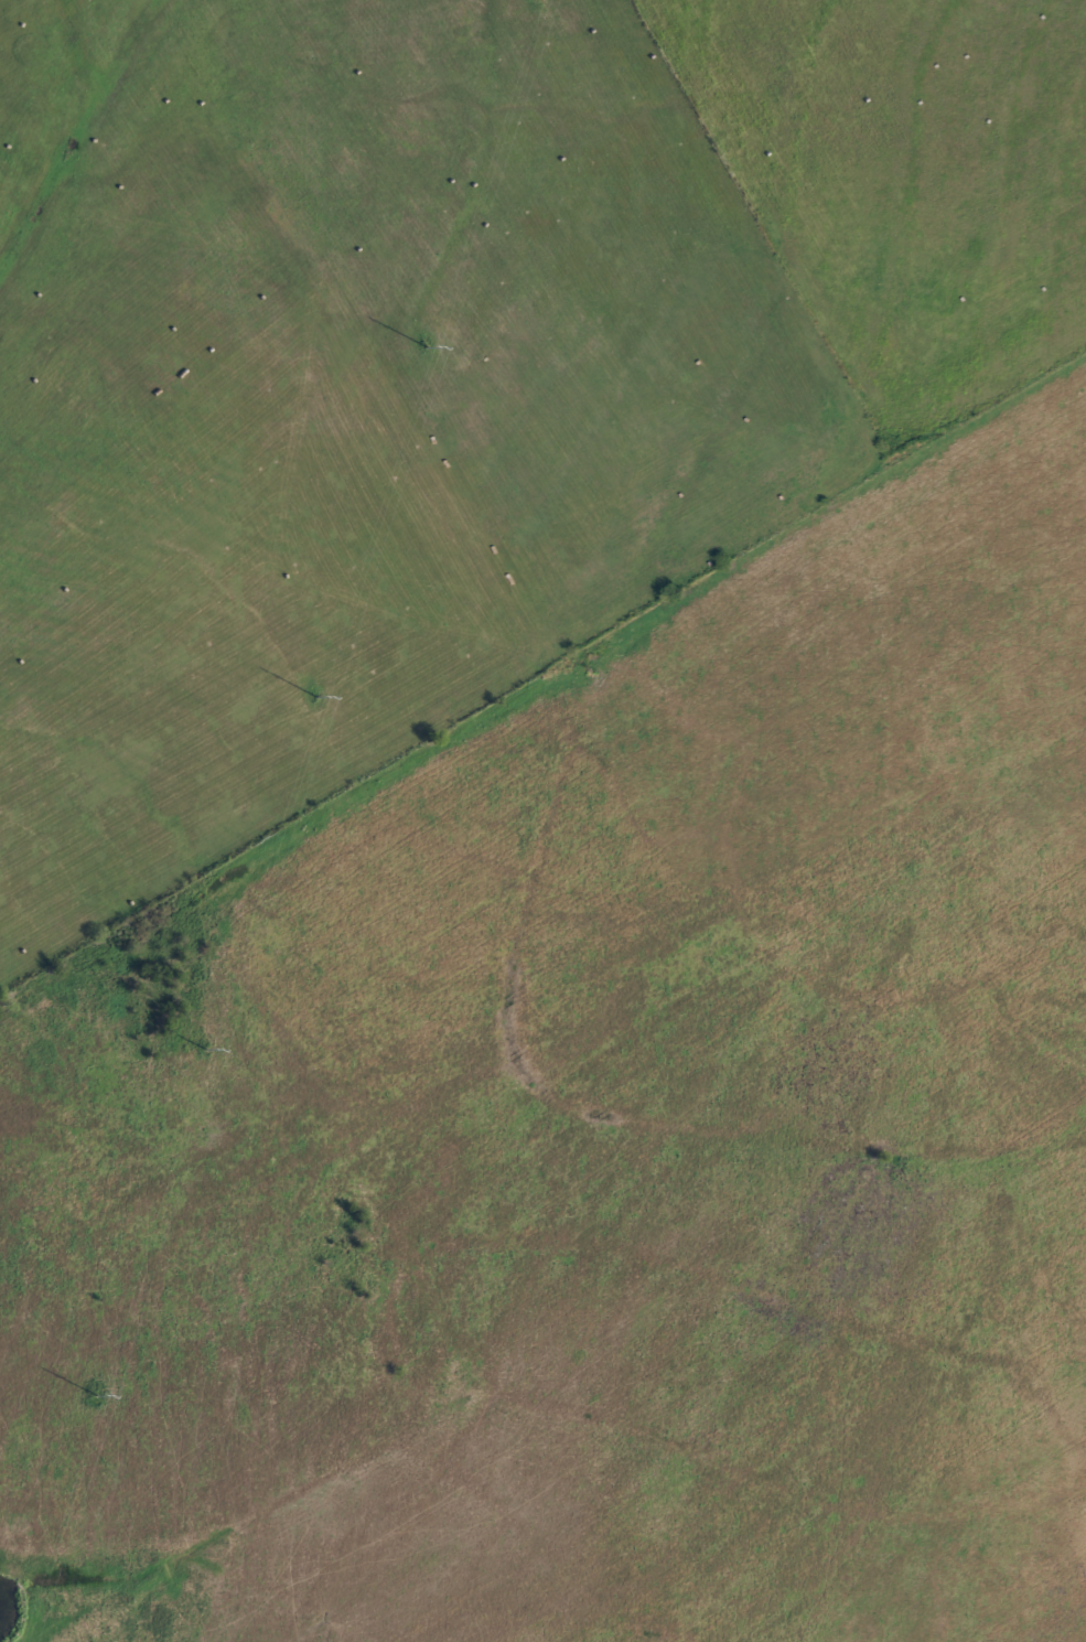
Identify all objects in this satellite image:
power tower: (426, 345)
power tower: (316, 695)
power tower: (206, 1049)
power tower: (97, 1395)

